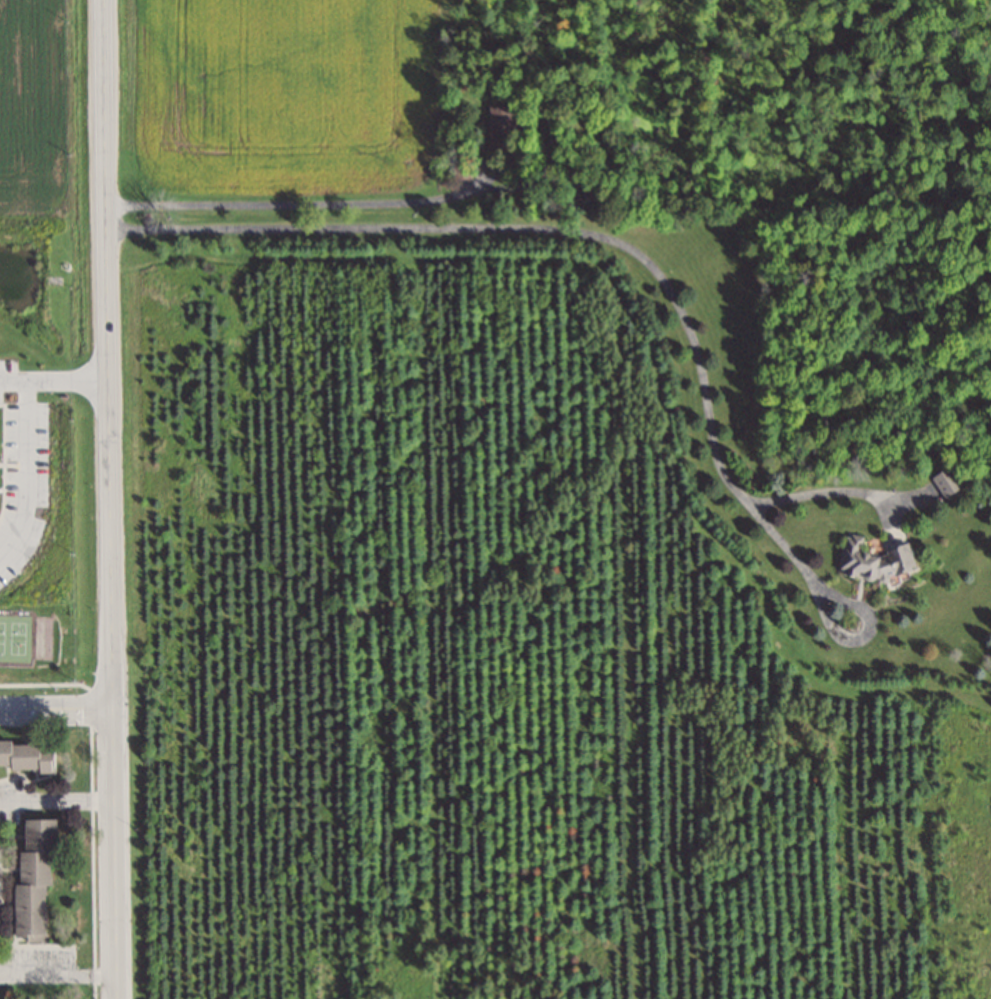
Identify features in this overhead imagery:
crop: (275, 105)
crop: (46, 106)
building: (508, 126)
building: (459, 168)
building: (578, 199)
road: (594, 234)
road: (108, 352)
road: (26, 431)
building: (870, 558)
road: (56, 706)
building: (2, 751)
building: (20, 755)
building: (46, 760)
road: (56, 795)
building: (35, 833)
road: (114, 852)
building: (31, 866)
building: (26, 909)
road: (58, 972)

